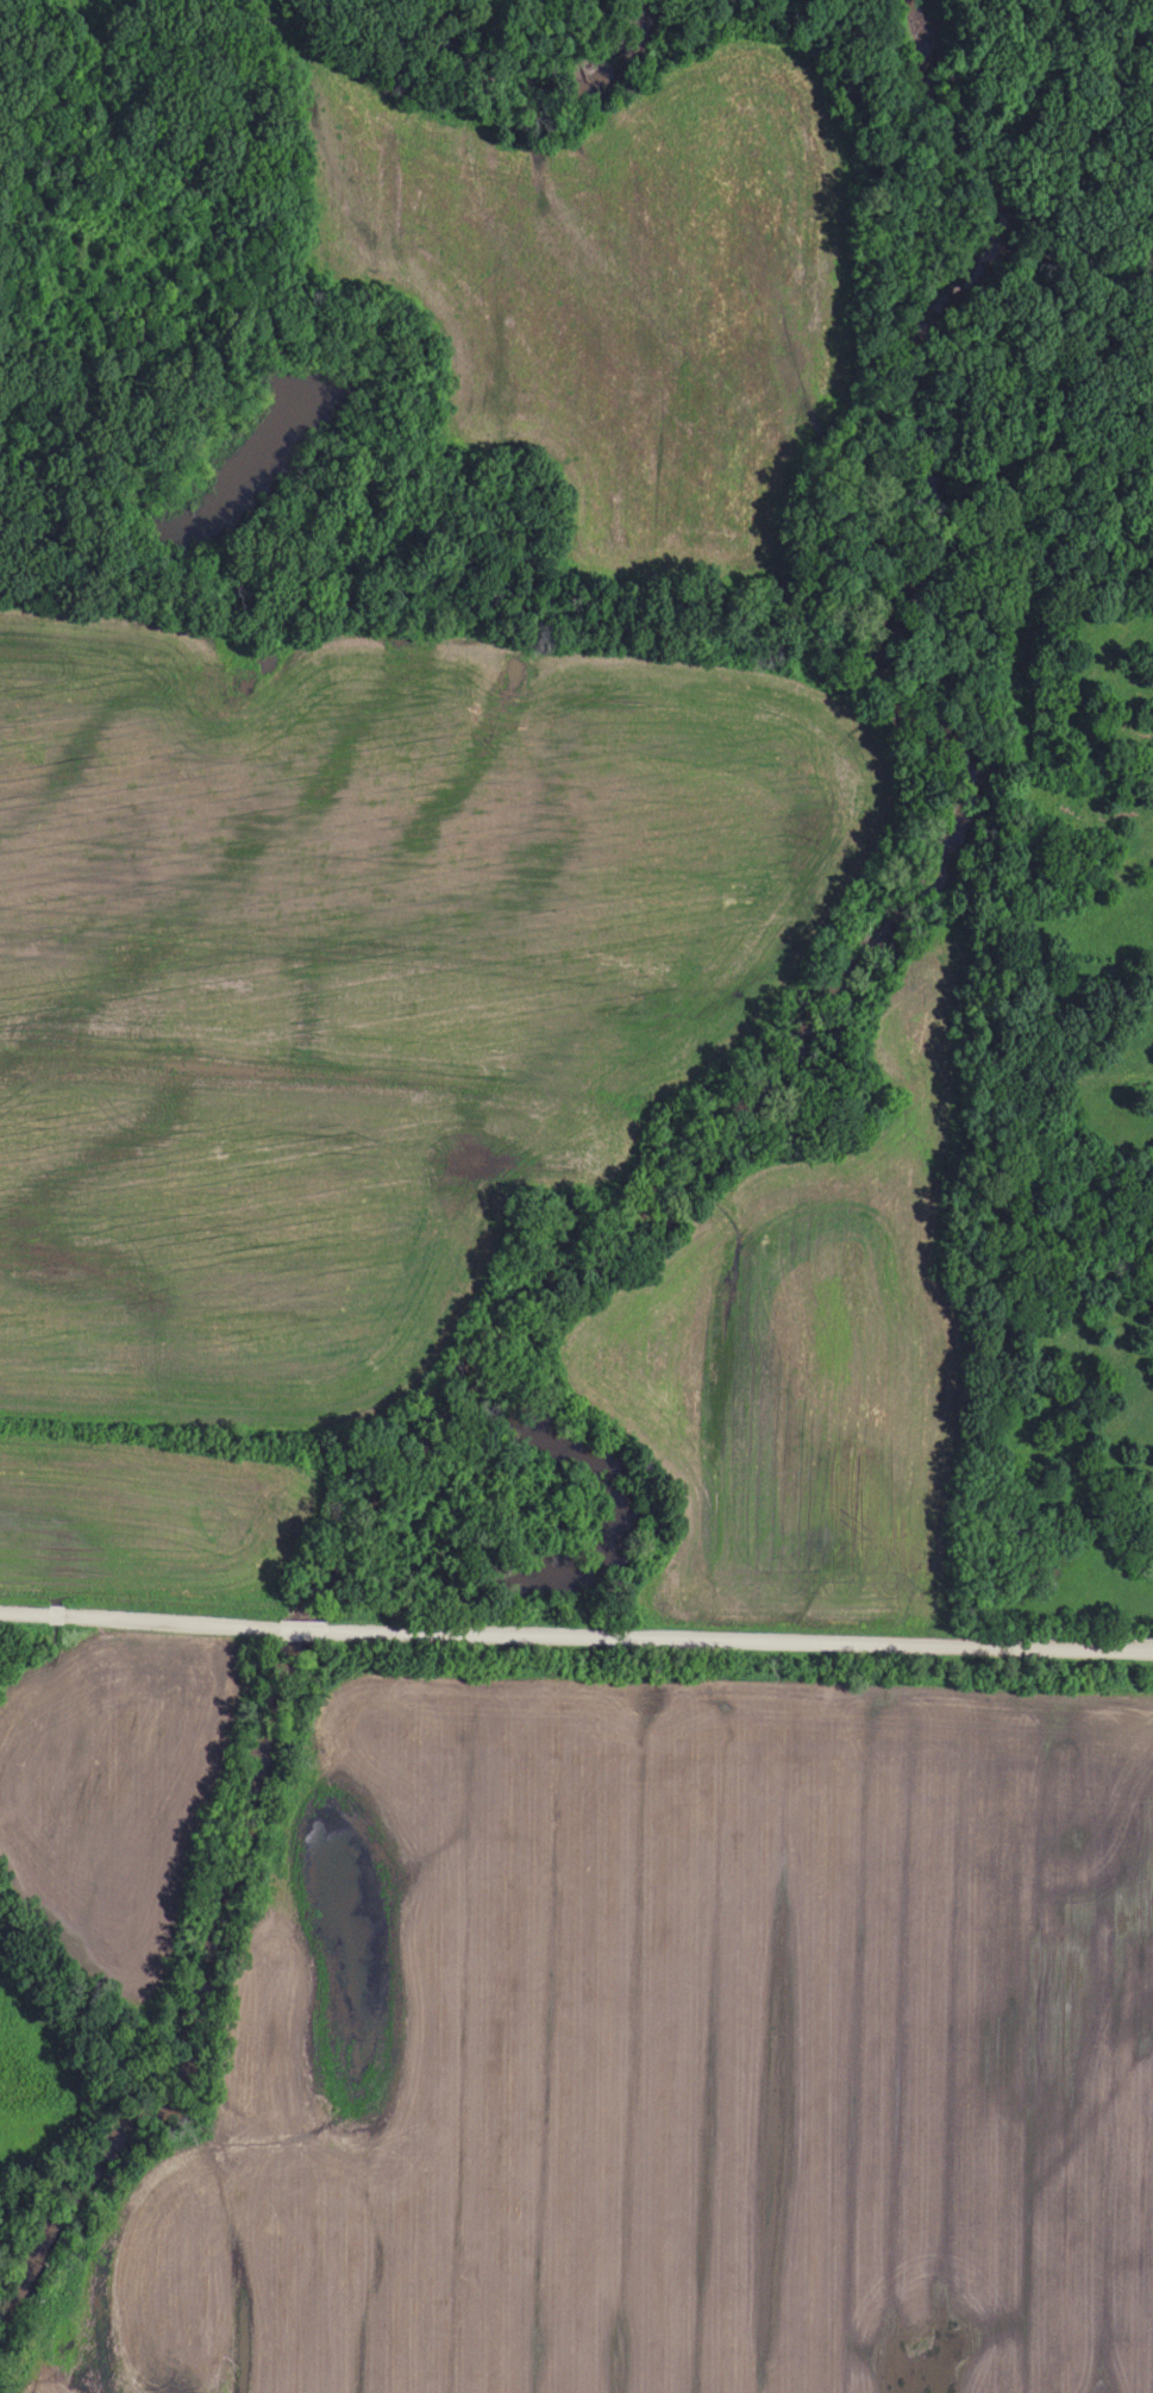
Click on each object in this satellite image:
road: (576, 1642)

